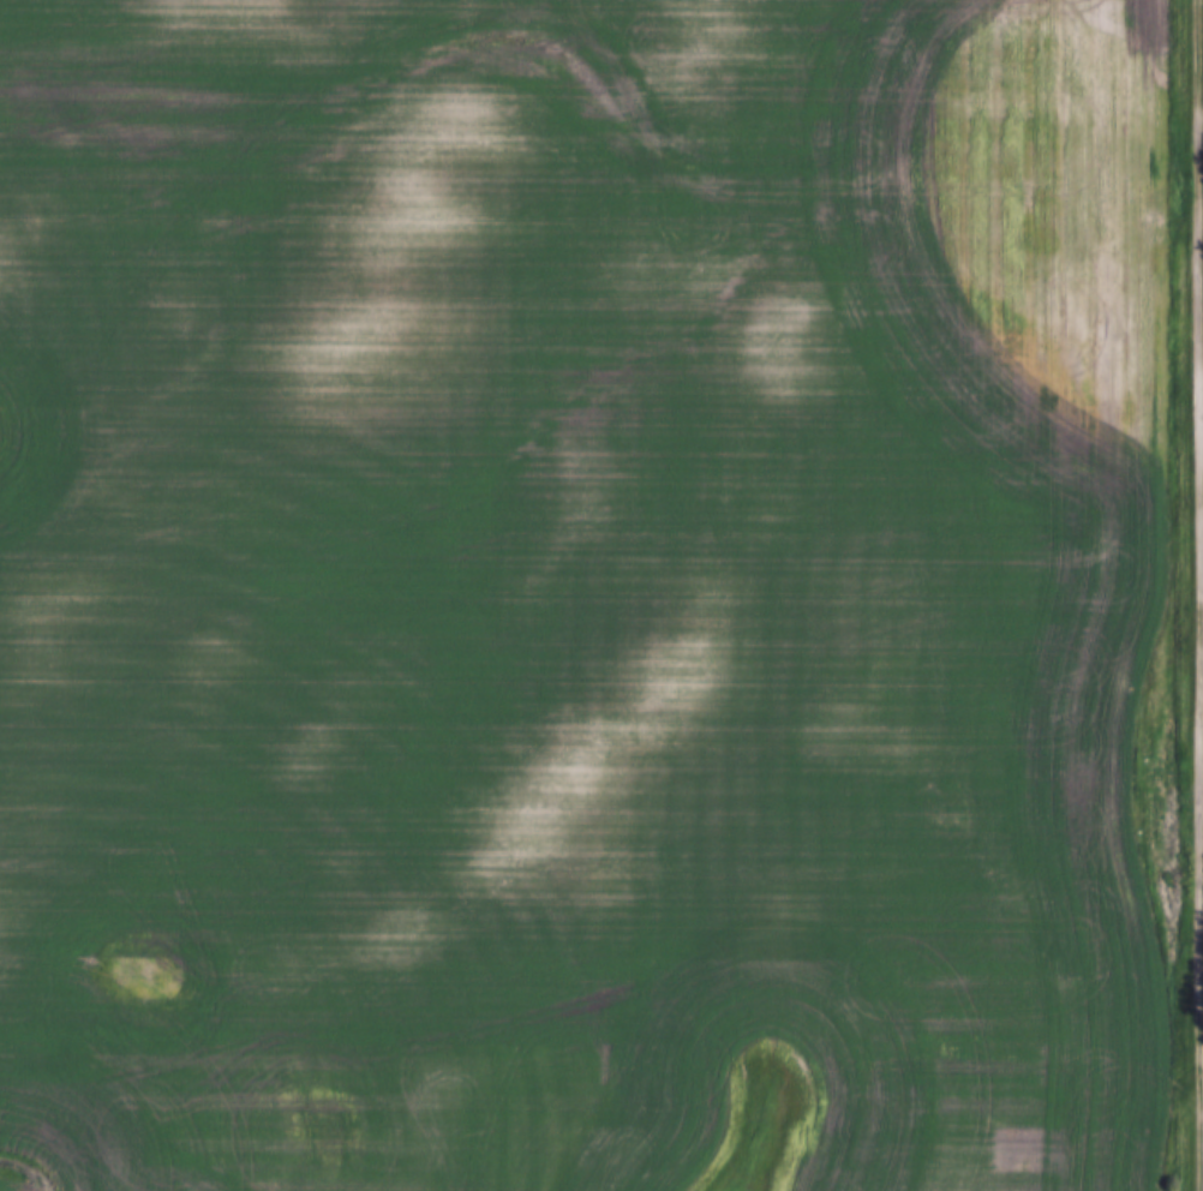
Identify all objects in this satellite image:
road: (1202, 53)
road: (1202, 466)
road: (1202, 1081)

